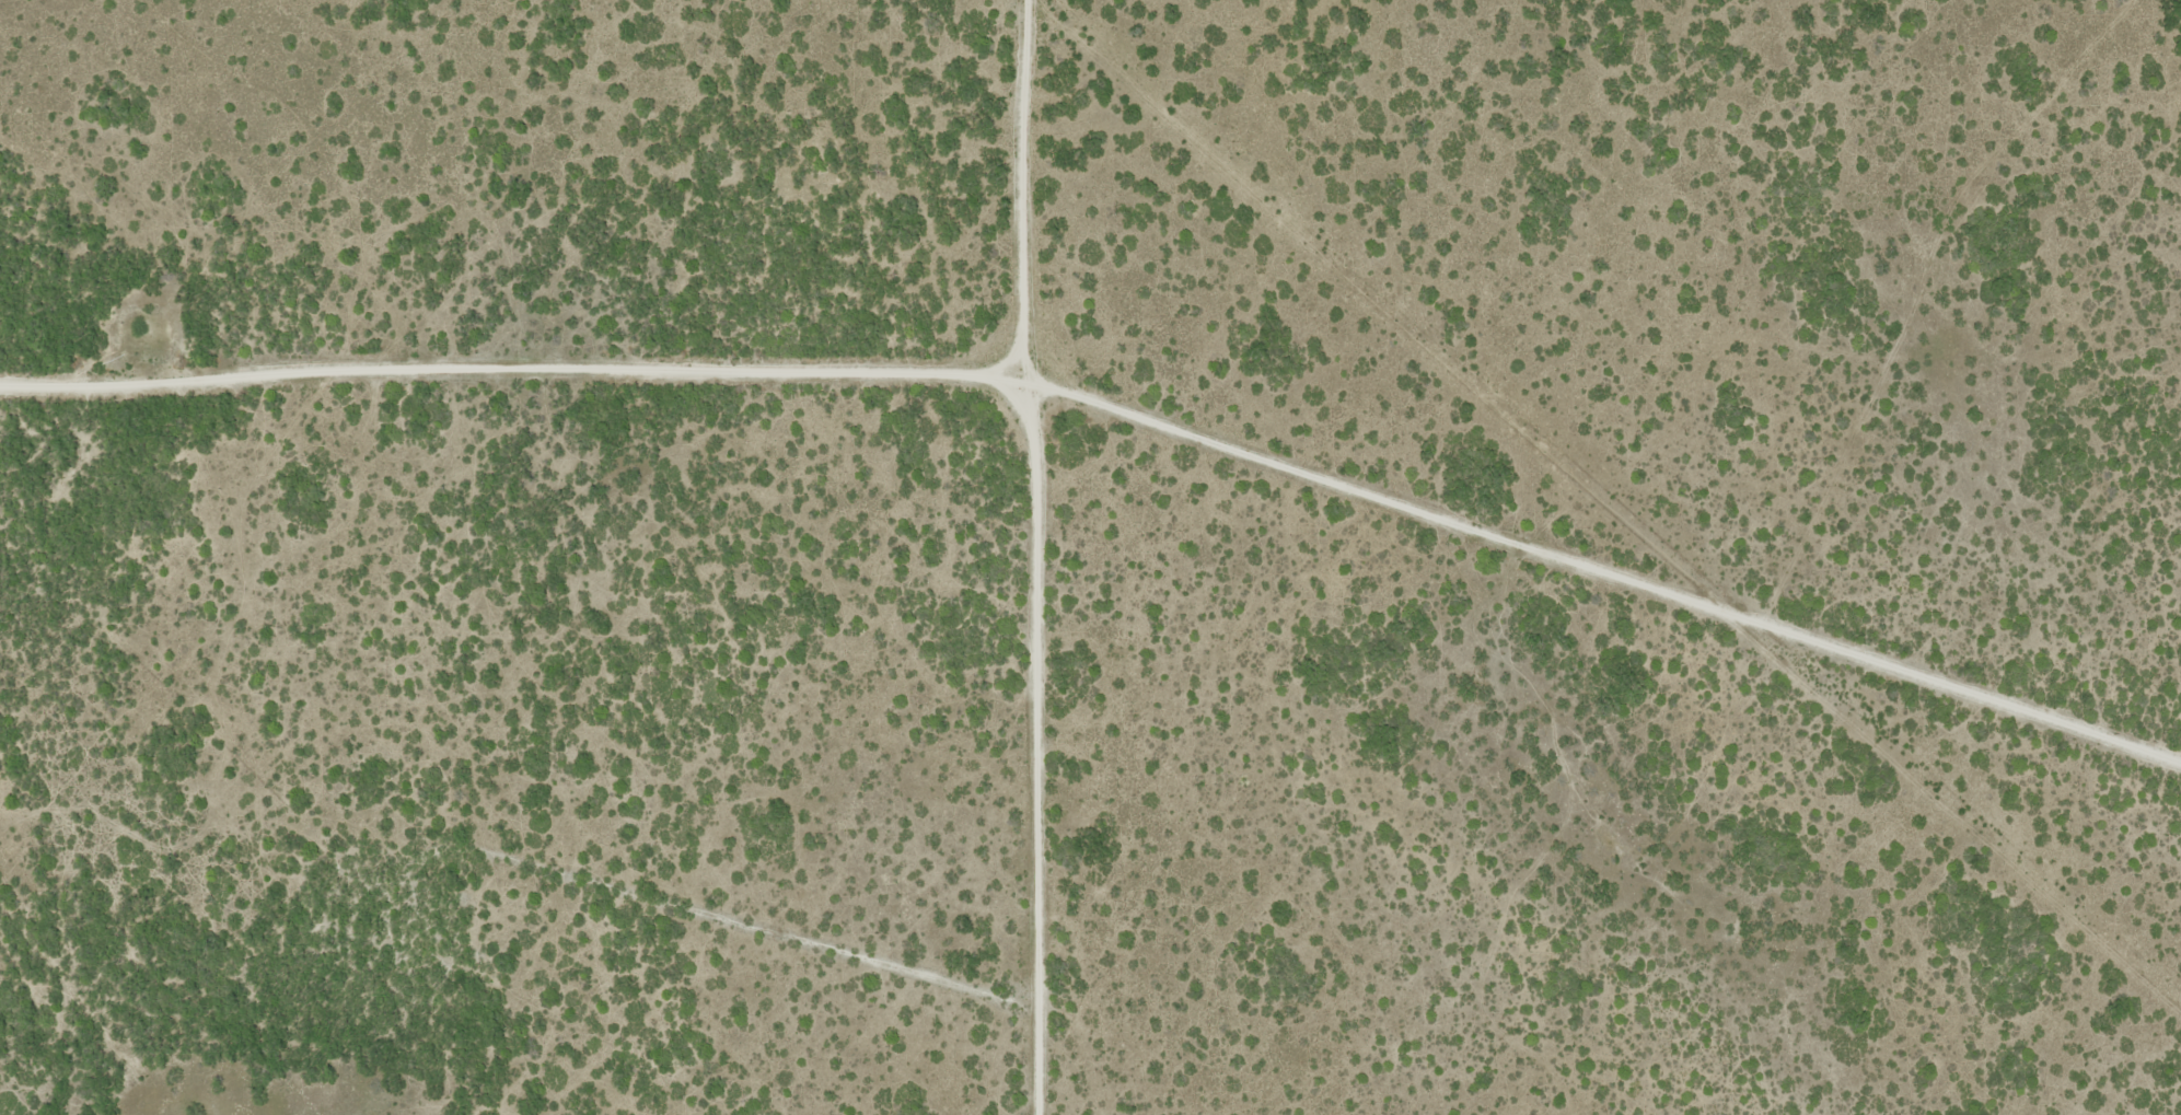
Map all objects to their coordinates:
road: (1116, 397)
road: (1040, 557)

